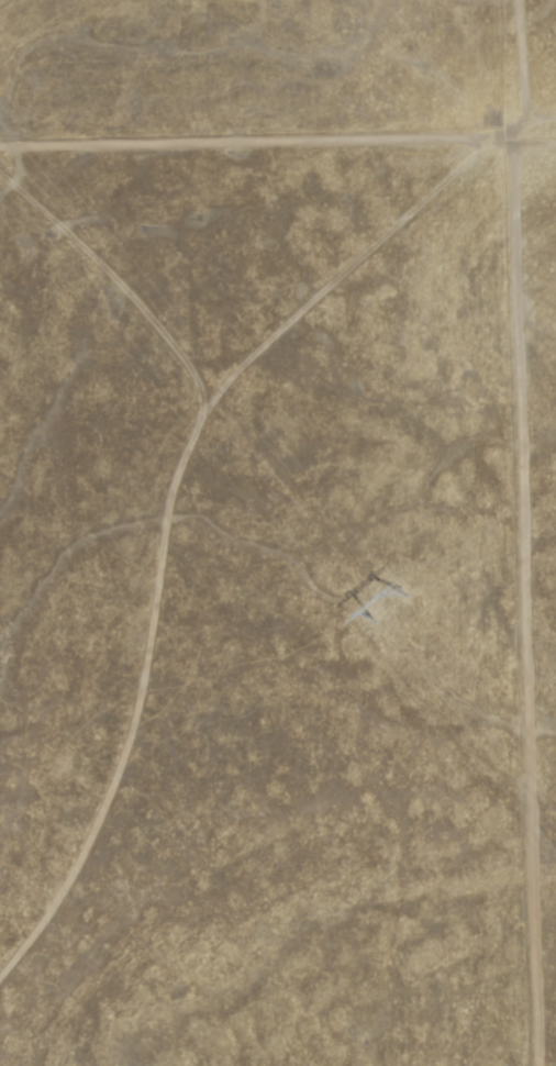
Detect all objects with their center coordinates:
power tower: (379, 598)

